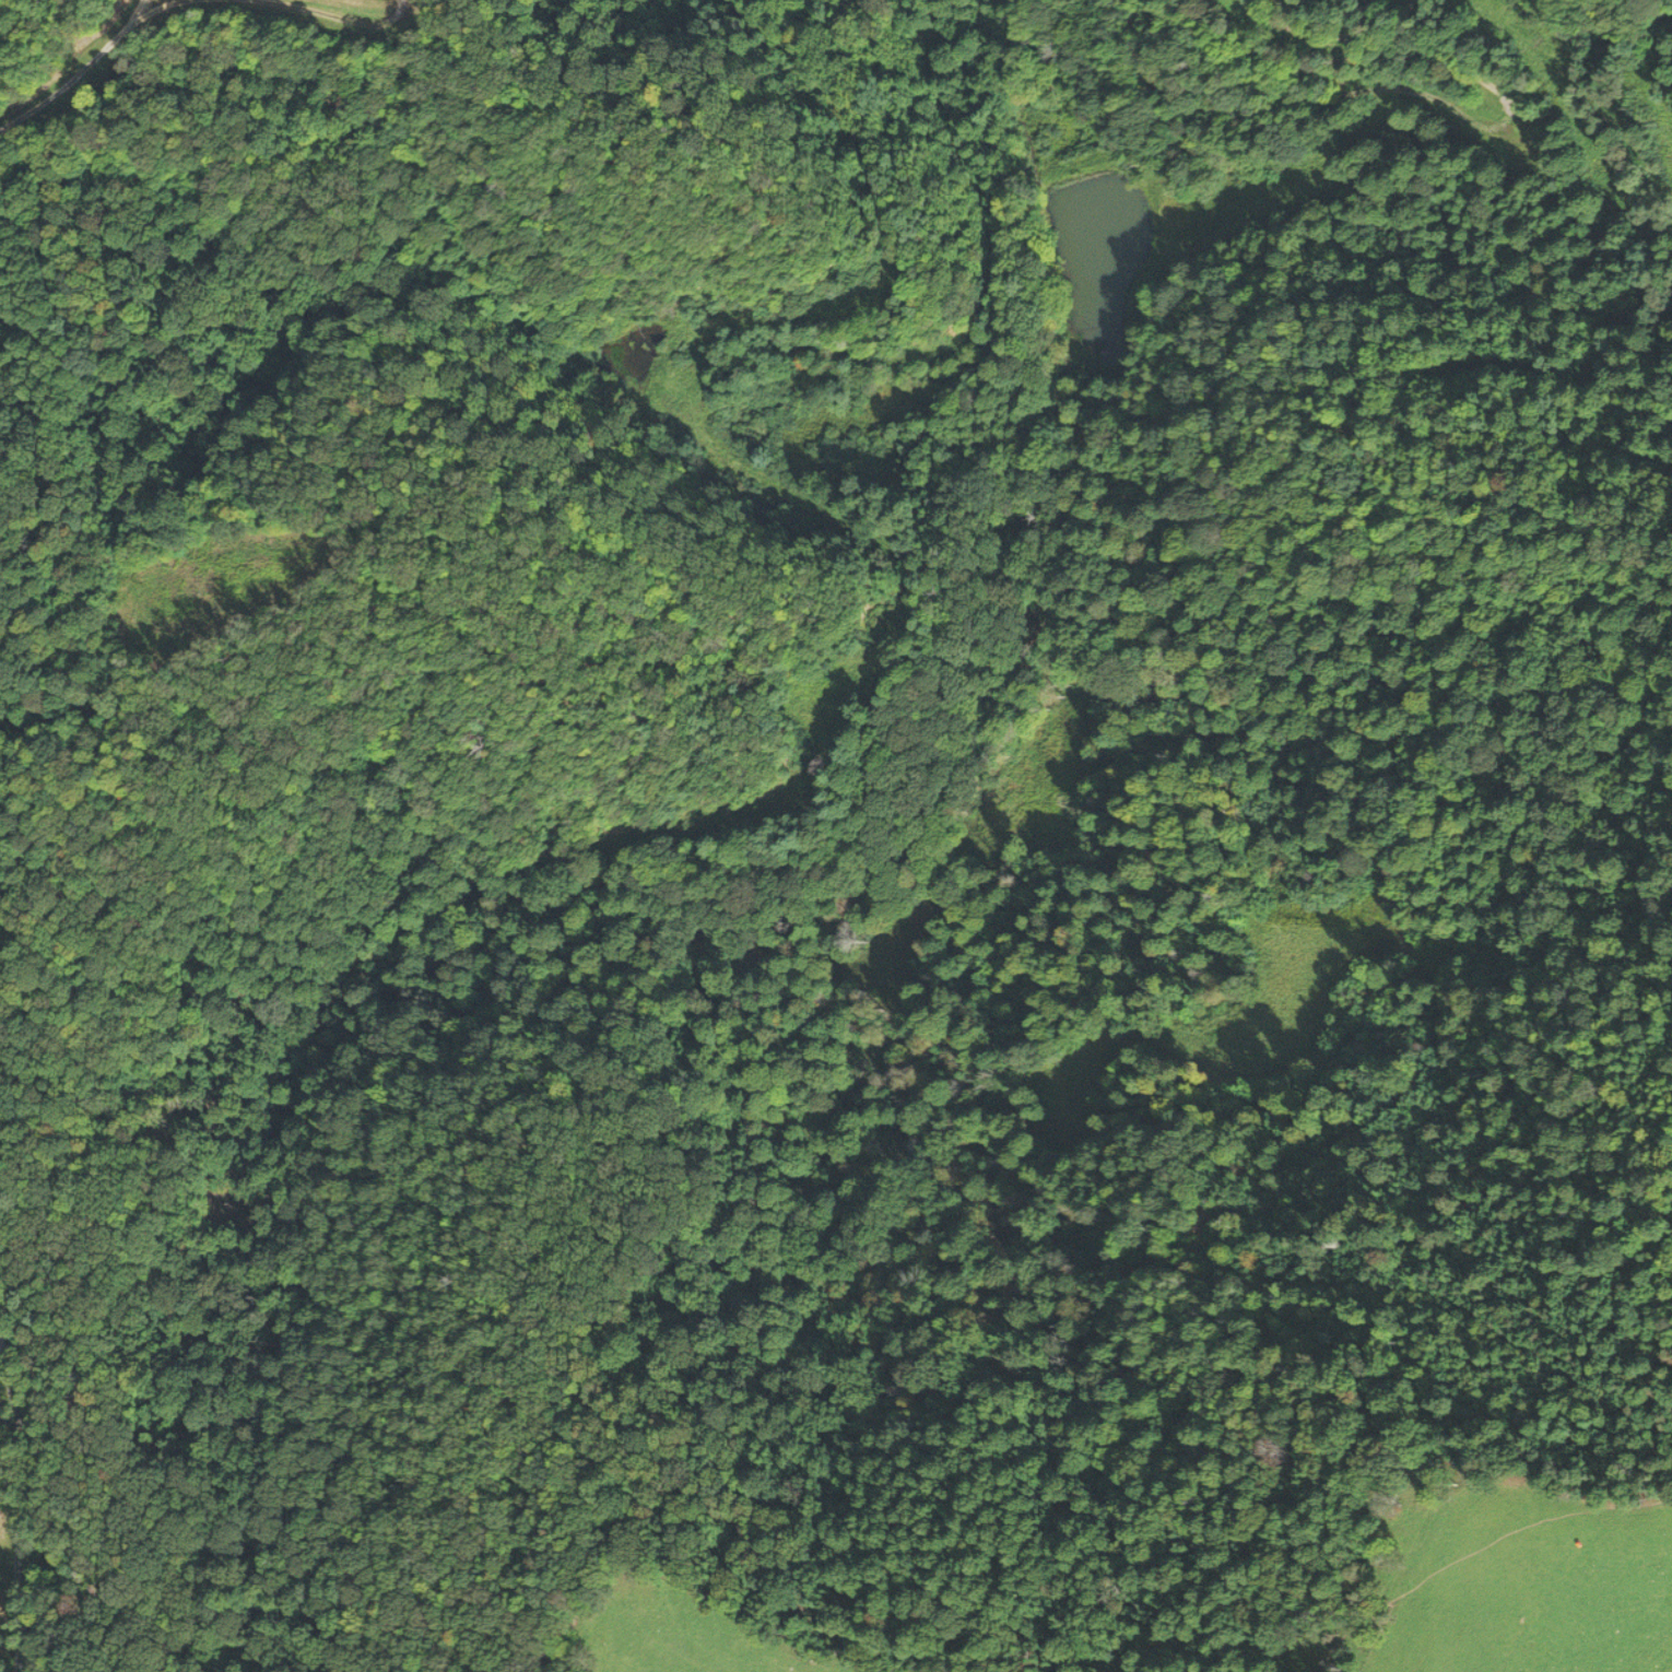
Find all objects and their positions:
road: (12, 1591)

